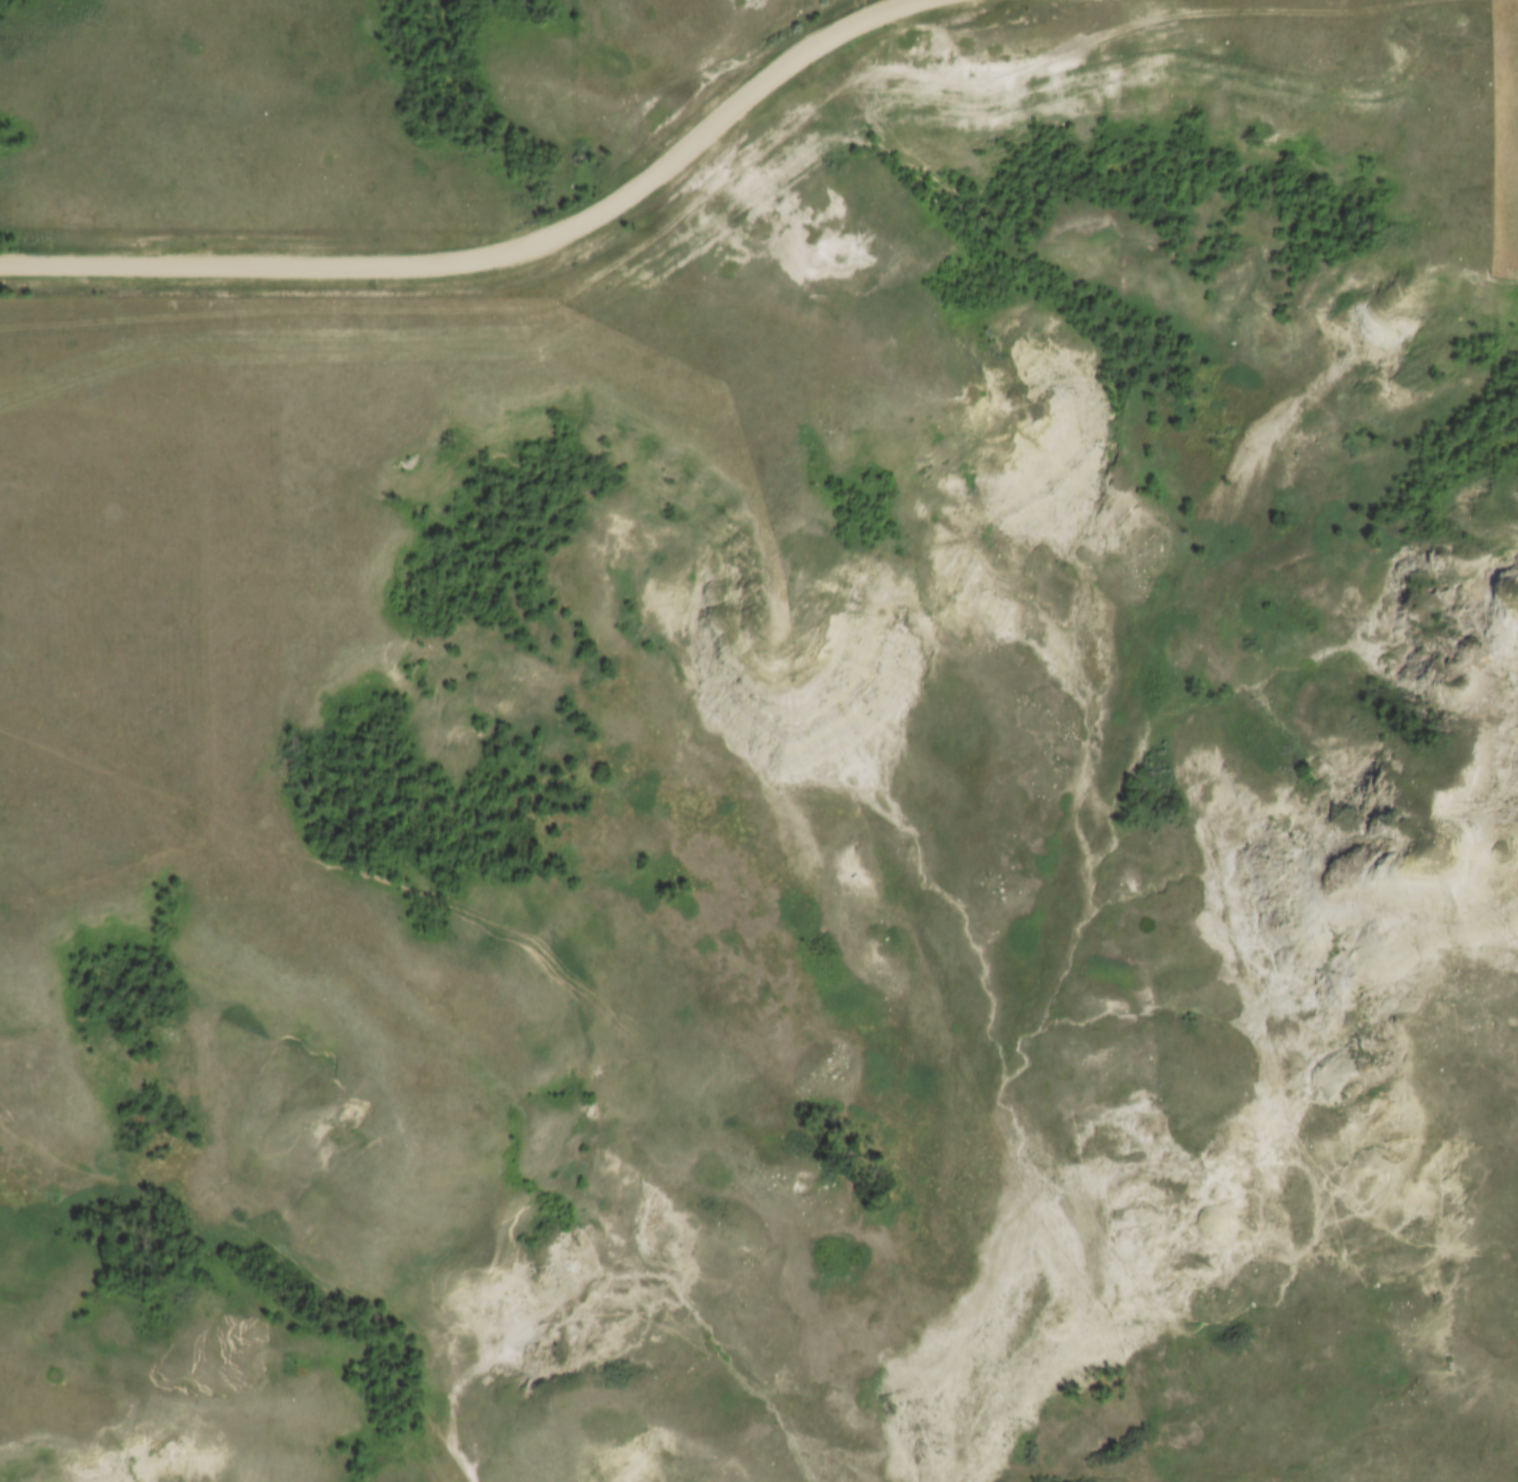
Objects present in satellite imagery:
road: (497, 259)

